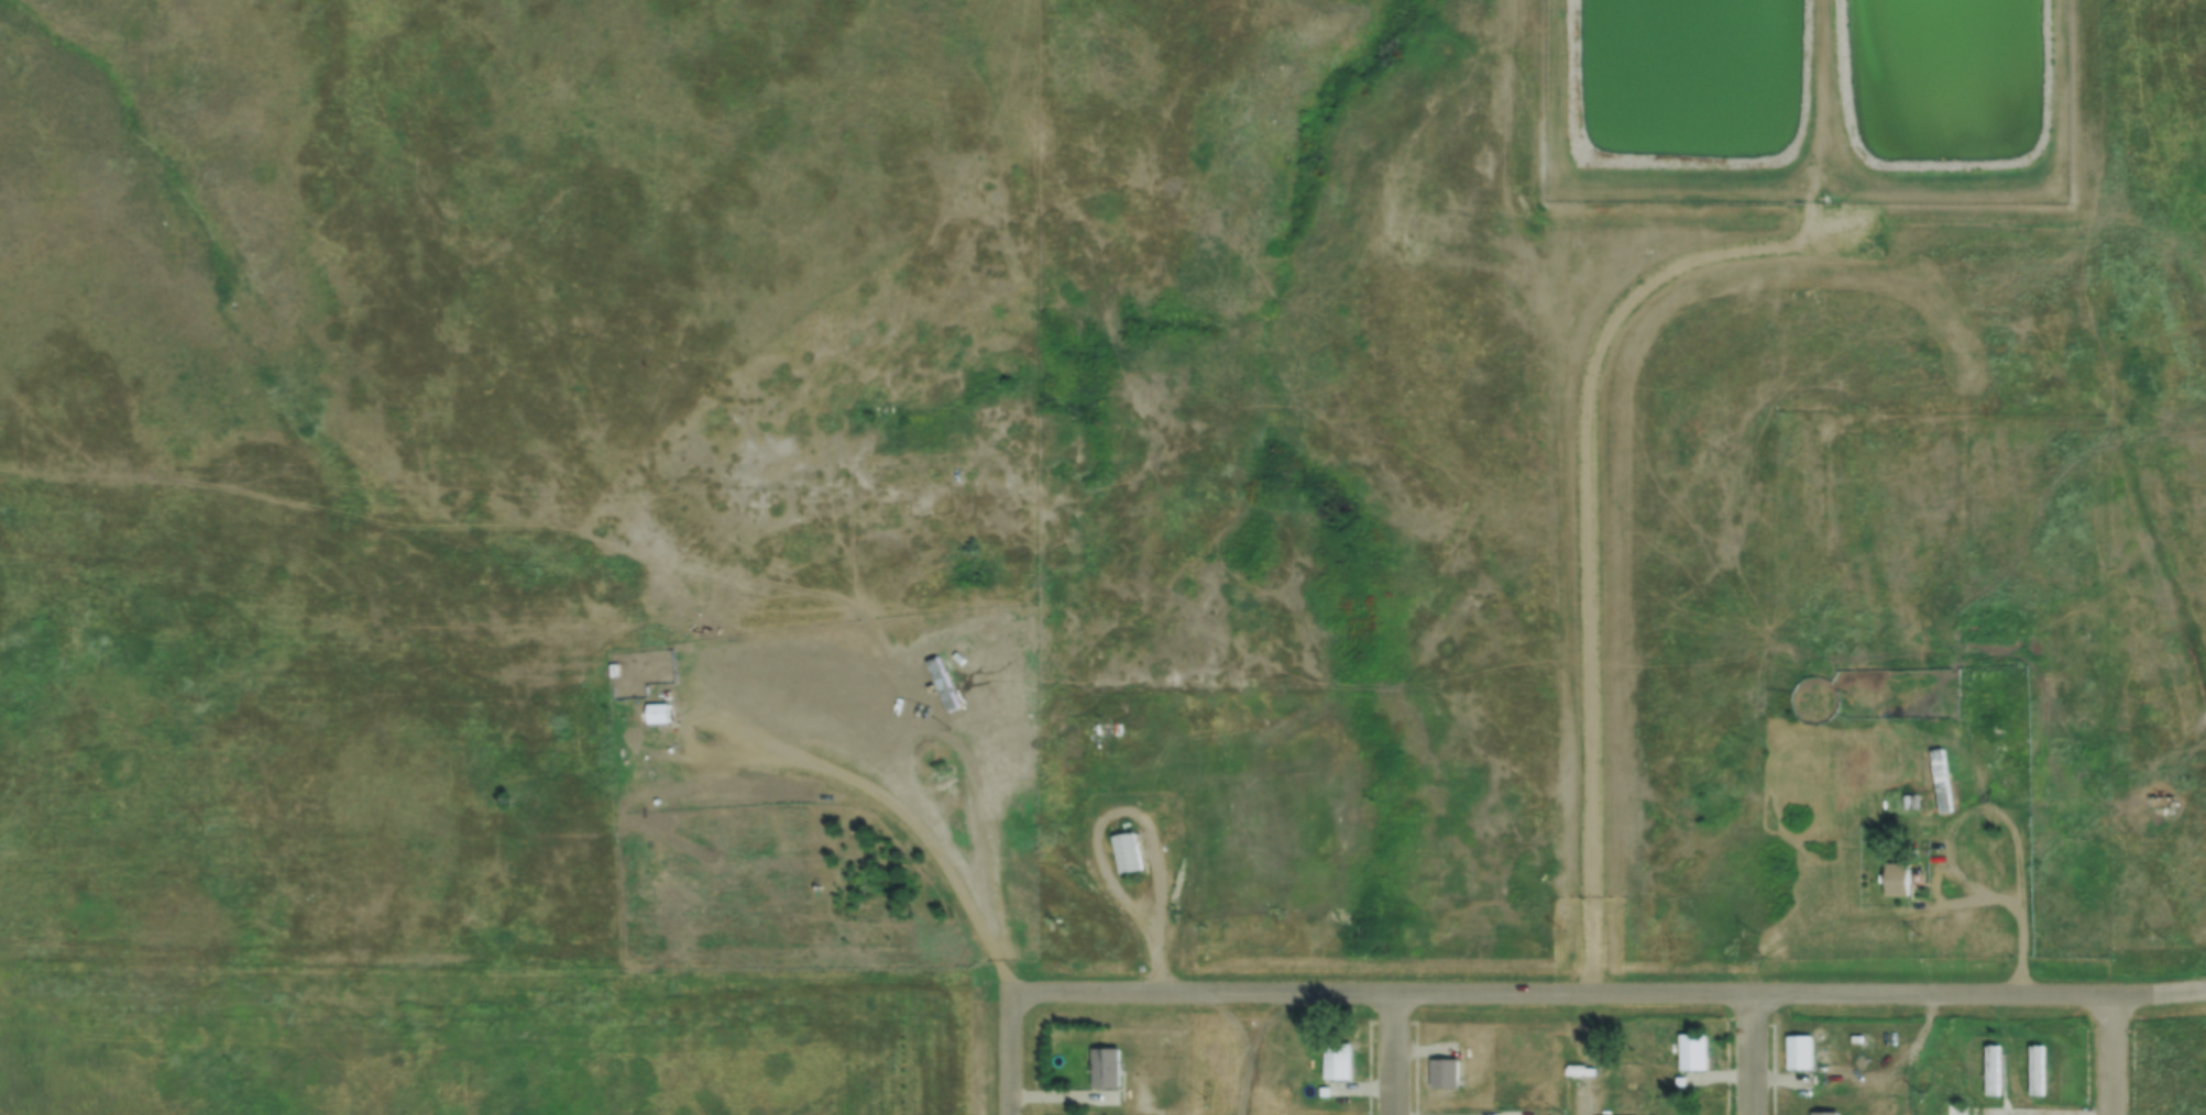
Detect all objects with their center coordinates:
road: (1572, 497)
building: (1983, 636)
building: (656, 714)
road: (830, 770)
road: (977, 792)
building: (1905, 799)
building: (1927, 799)
road: (1138, 819)
building: (1126, 853)
building: (1896, 881)
building: (1916, 883)
road: (1908, 914)
road: (2205, 991)
road: (1555, 995)
building: (1692, 1049)
building: (1799, 1050)
road: (1393, 1055)
road: (1748, 1055)
road: (2110, 1056)
building: (1337, 1060)
building: (1989, 1064)
building: (1105, 1067)
building: (2032, 1067)
building: (1444, 1072)
building: (1678, 1080)
building: (1322, 1091)
road: (1062, 1097)
building: (1955, 1108)
building: (1824, 1113)

